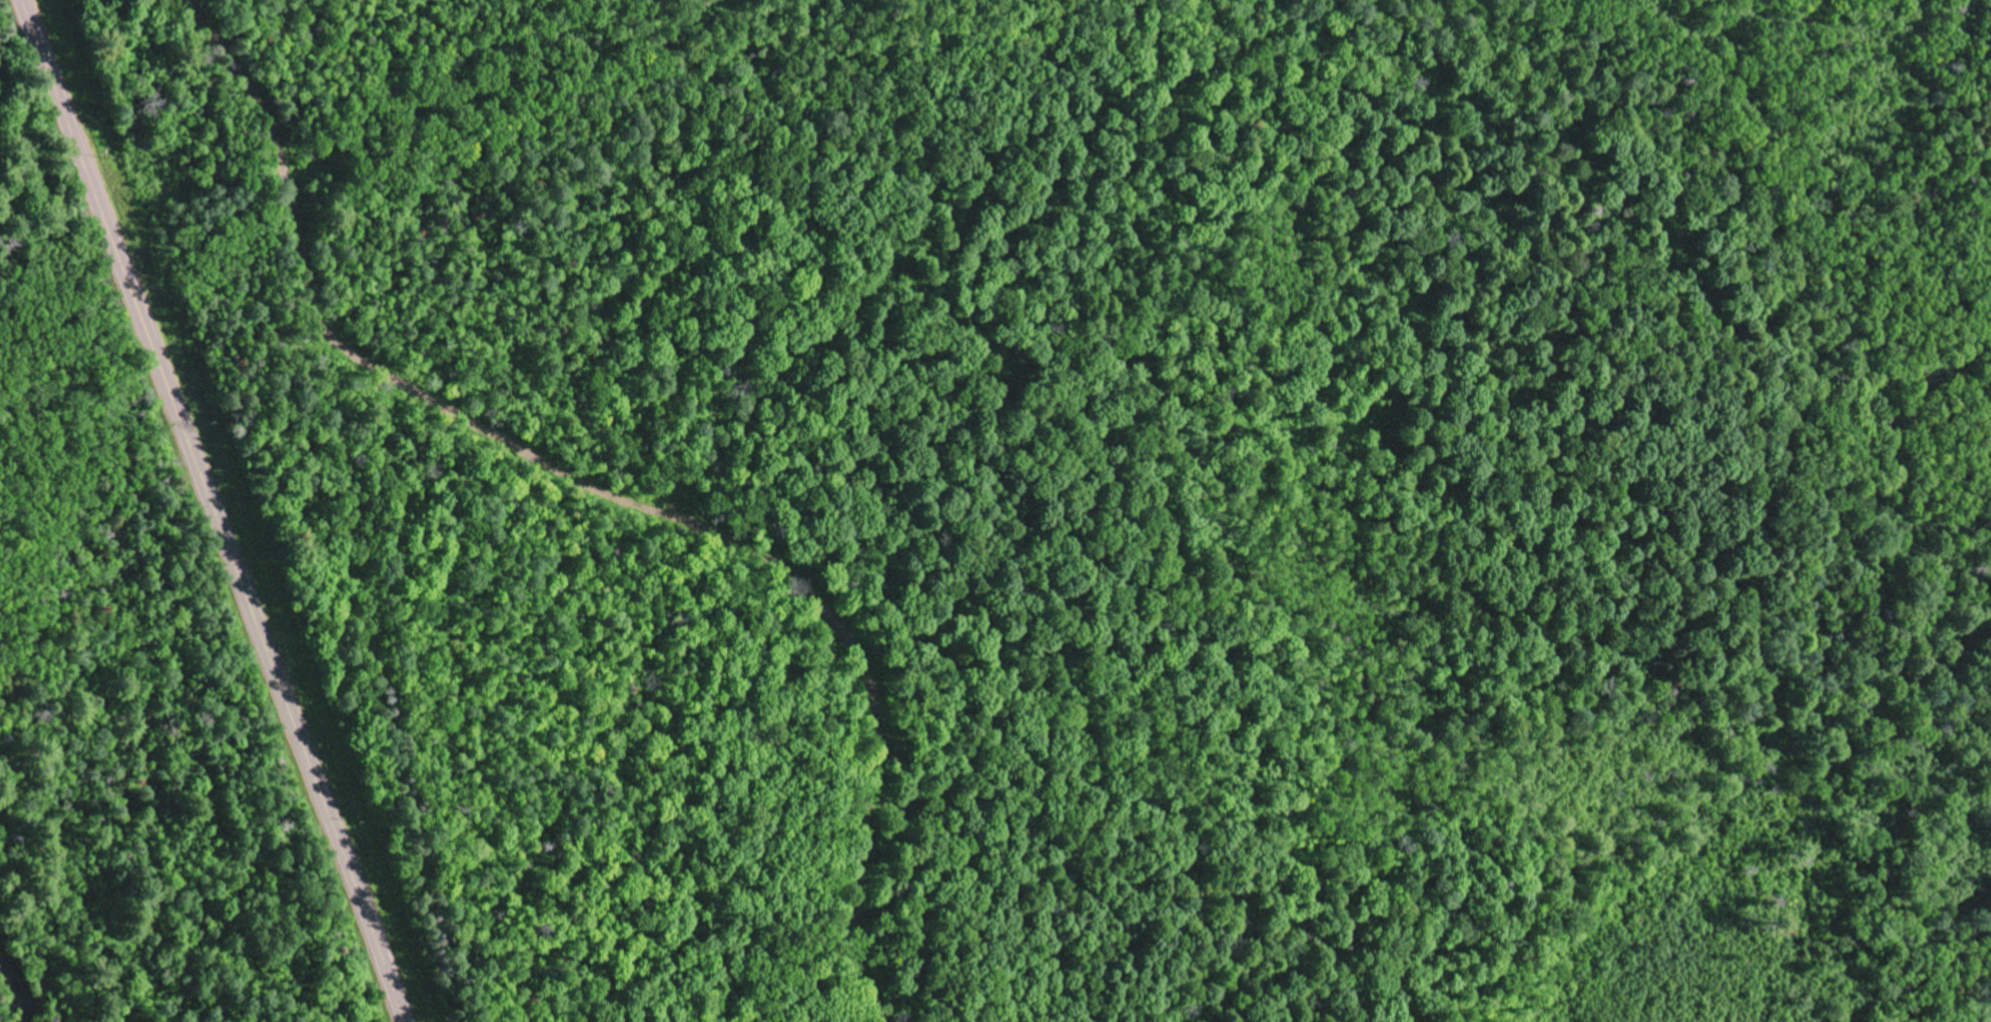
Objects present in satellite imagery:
road: (213, 510)

